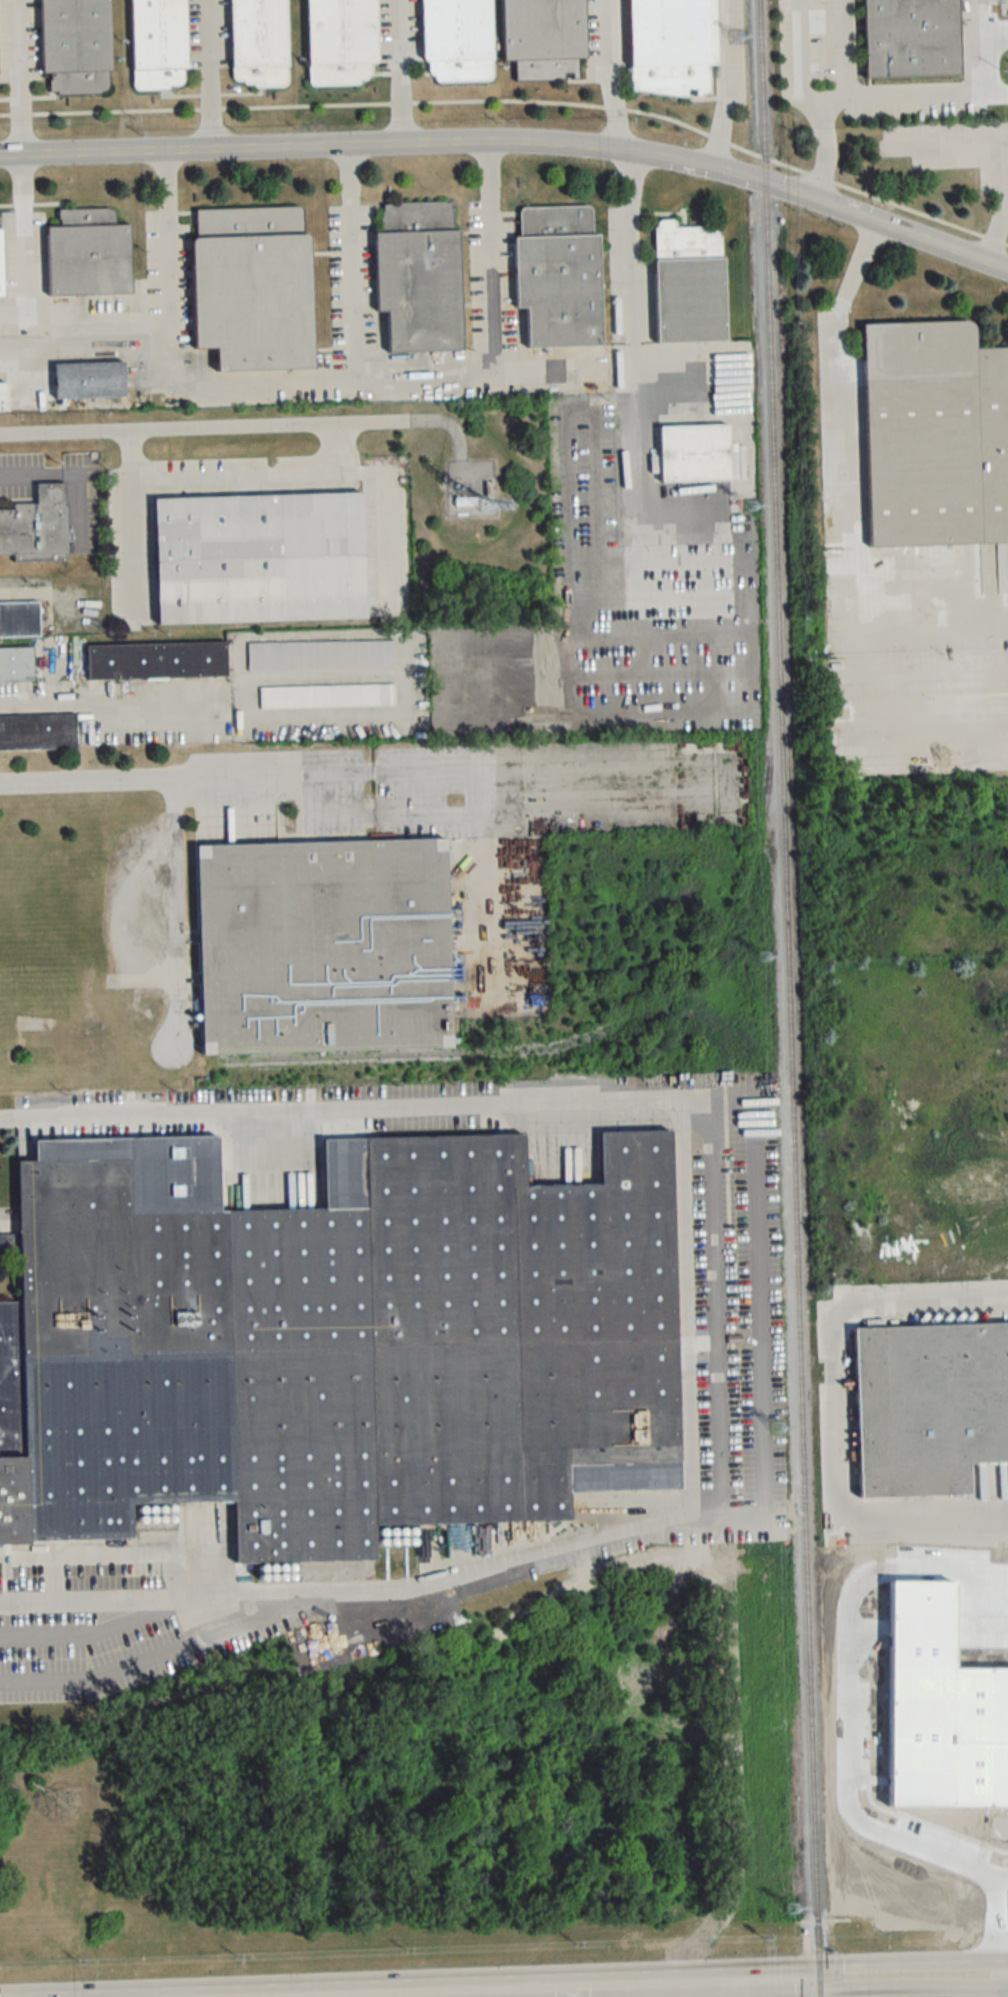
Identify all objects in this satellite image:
power tower: (734, 35)
building: (544, 37)
building: (457, 39)
building: (911, 40)
building: (341, 41)
building: (258, 42)
building: (158, 43)
building: (76, 45)
building: (671, 45)
road: (399, 73)
road: (209, 76)
road: (609, 78)
road: (940, 93)
road: (806, 104)
road: (946, 142)
road: (513, 145)
road: (21, 169)
road: (1001, 204)
building: (88, 254)
road: (353, 262)
building: (1, 267)
building: (419, 276)
building: (558, 276)
building: (688, 283)
building: (252, 287)
road: (624, 300)
road: (102, 348)
road: (3, 350)
road: (335, 376)
building: (89, 380)
building: (3, 397)
road: (240, 425)
building: (935, 435)
building: (694, 453)
road: (462, 463)
road: (67, 474)
road: (232, 474)
road: (384, 495)
power tower: (749, 505)
building: (36, 526)
road: (133, 540)
road: (846, 546)
building: (259, 558)
road: (933, 584)
road: (40, 592)
building: (19, 619)
building: (320, 655)
building: (156, 660)
building: (16, 665)
road: (402, 689)
building: (327, 696)
road: (123, 703)
building: (37, 732)
road: (428, 769)
road: (186, 777)
road: (397, 813)
building: (325, 947)
power tower: (762, 955)
railway: (790, 998)
railway: (641, 1010)
road: (681, 1316)
road: (831, 1326)
building: (341, 1351)
building: (929, 1408)
power tower: (776, 1428)
road: (924, 1525)
power tower: (791, 1910)
road: (955, 1966)
road: (955, 1984)
road: (589, 1985)
road: (732, 1989)

